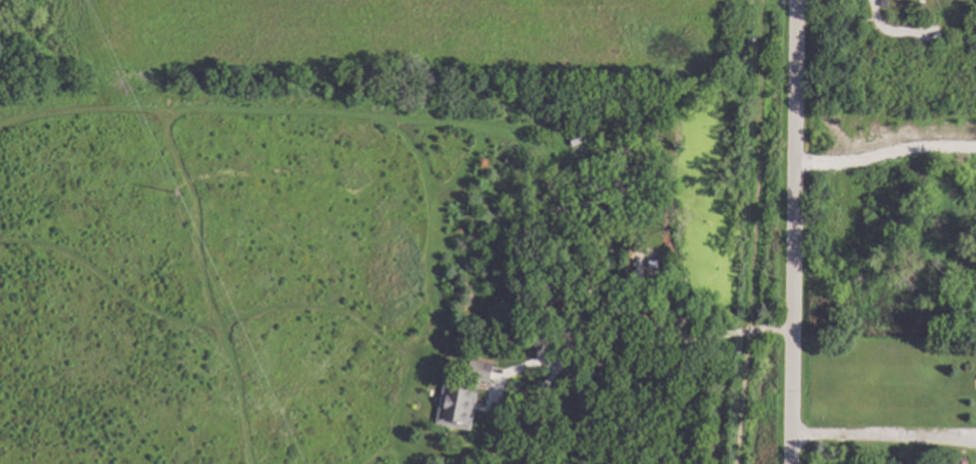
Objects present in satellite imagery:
crop: (367, 28)
road: (887, 153)
road: (799, 231)
building: (532, 232)
building: (667, 303)
building: (622, 310)
road: (643, 342)
building: (597, 376)
building: (459, 396)
building: (633, 414)
road: (886, 439)
building: (963, 460)

